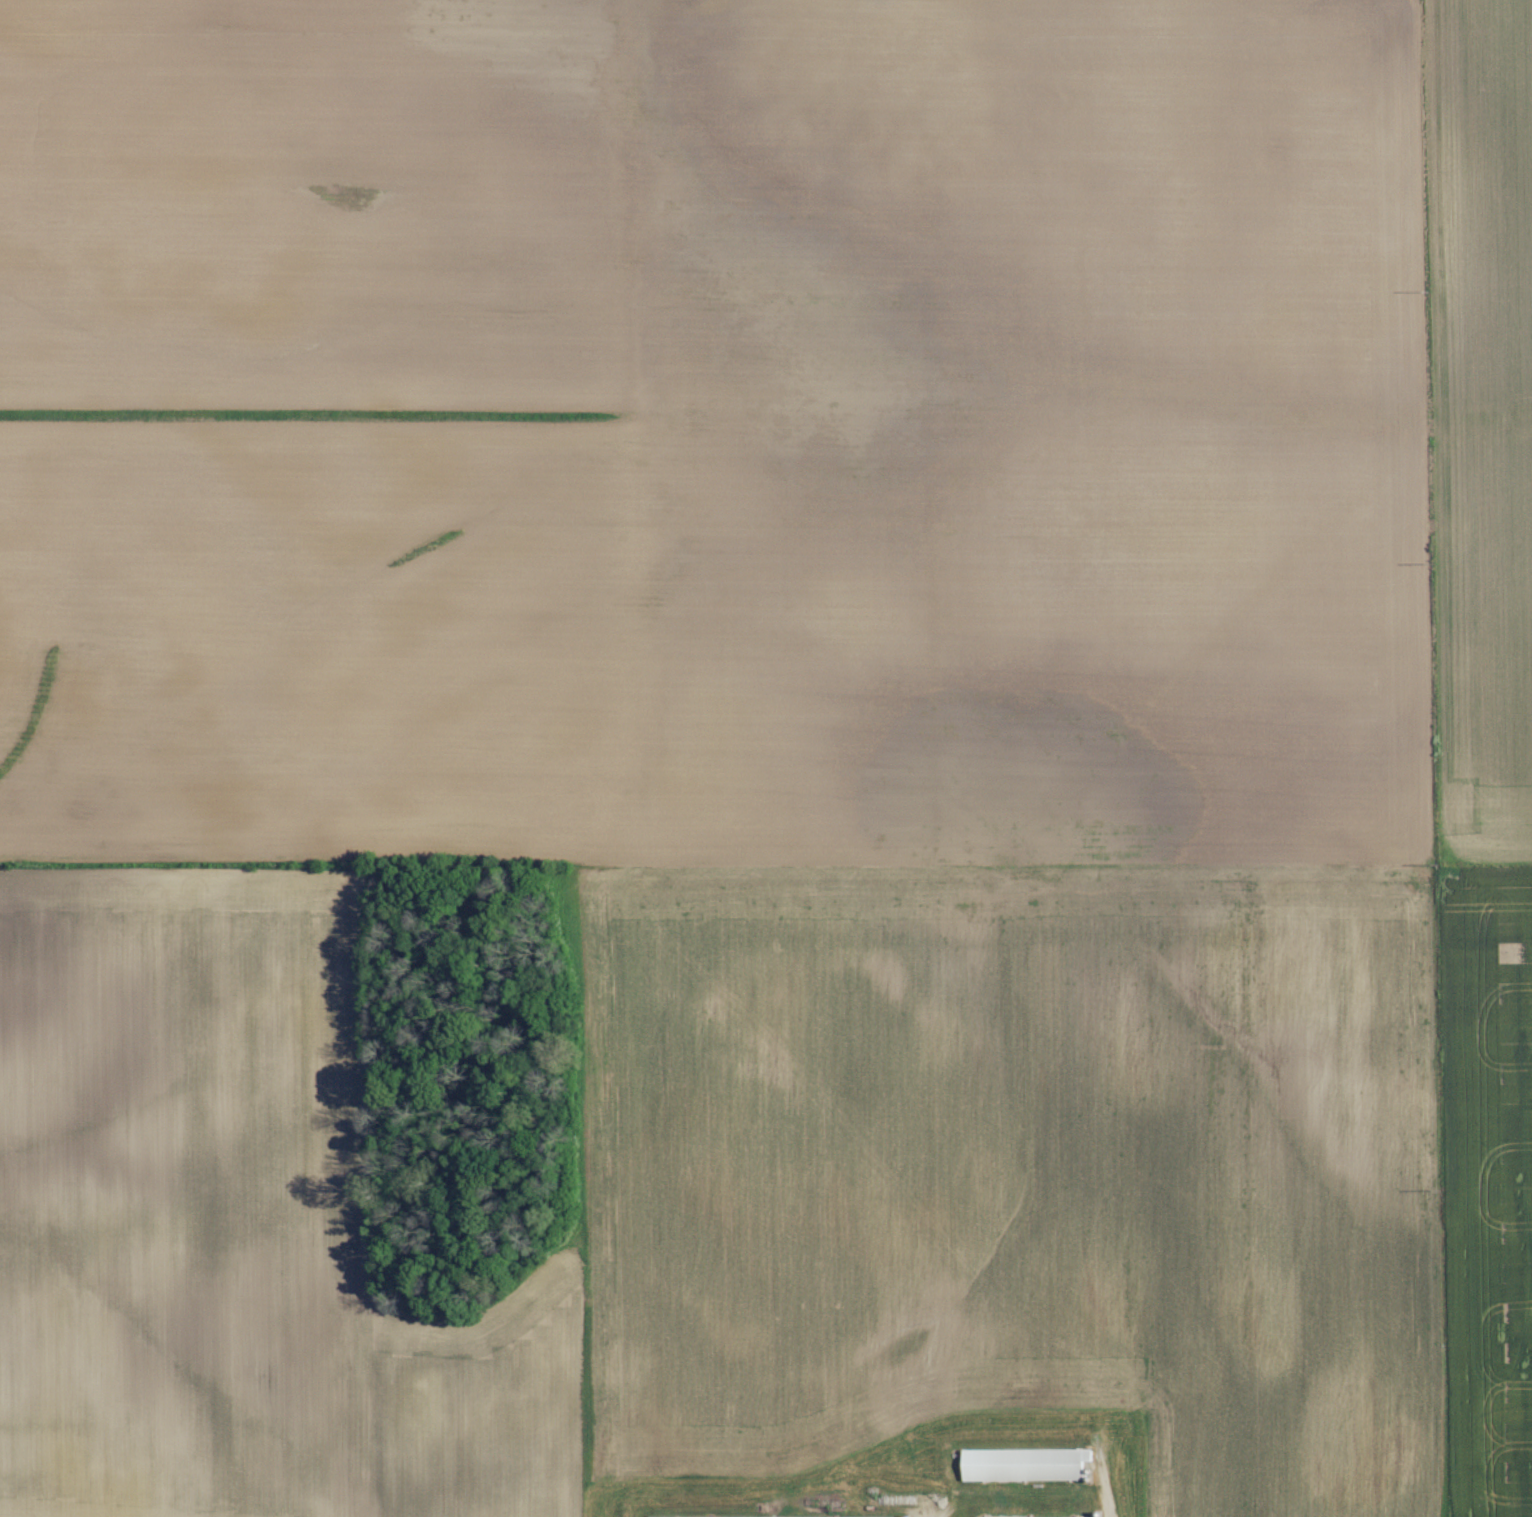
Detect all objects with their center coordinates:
building: (1024, 1465)
building: (653, 1516)

